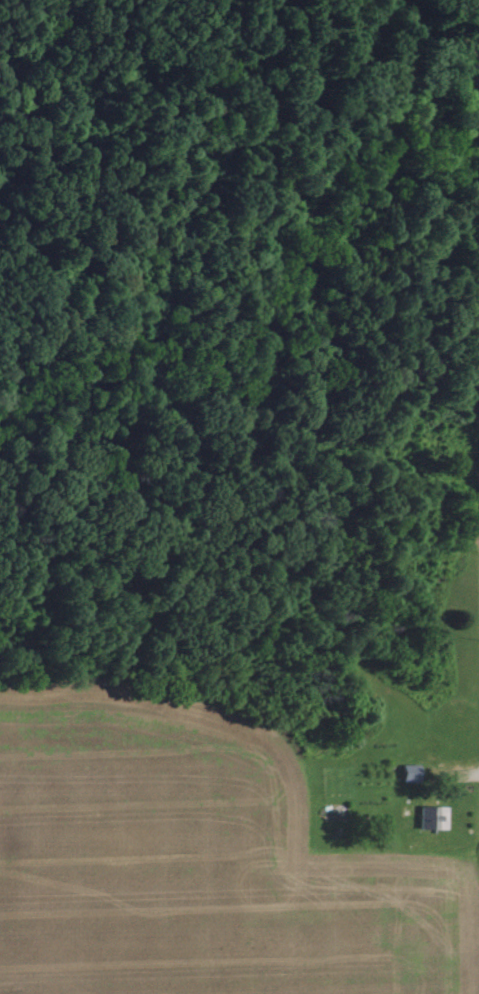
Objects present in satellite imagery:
building: (408, 773)
building: (429, 817)

